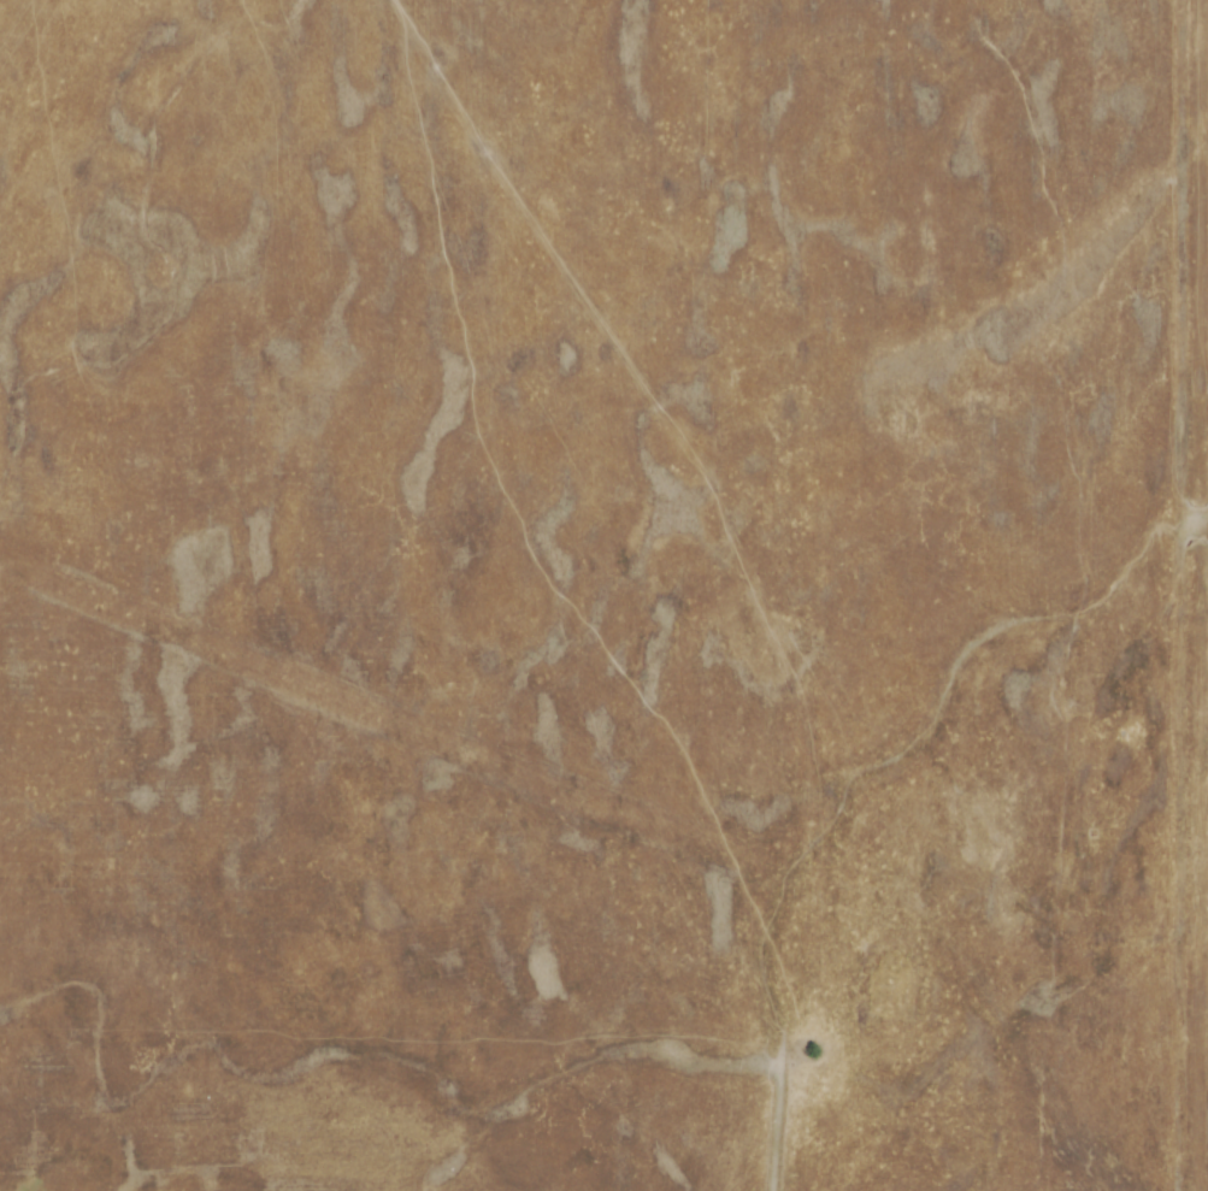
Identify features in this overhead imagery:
railway: (1194, 246)

